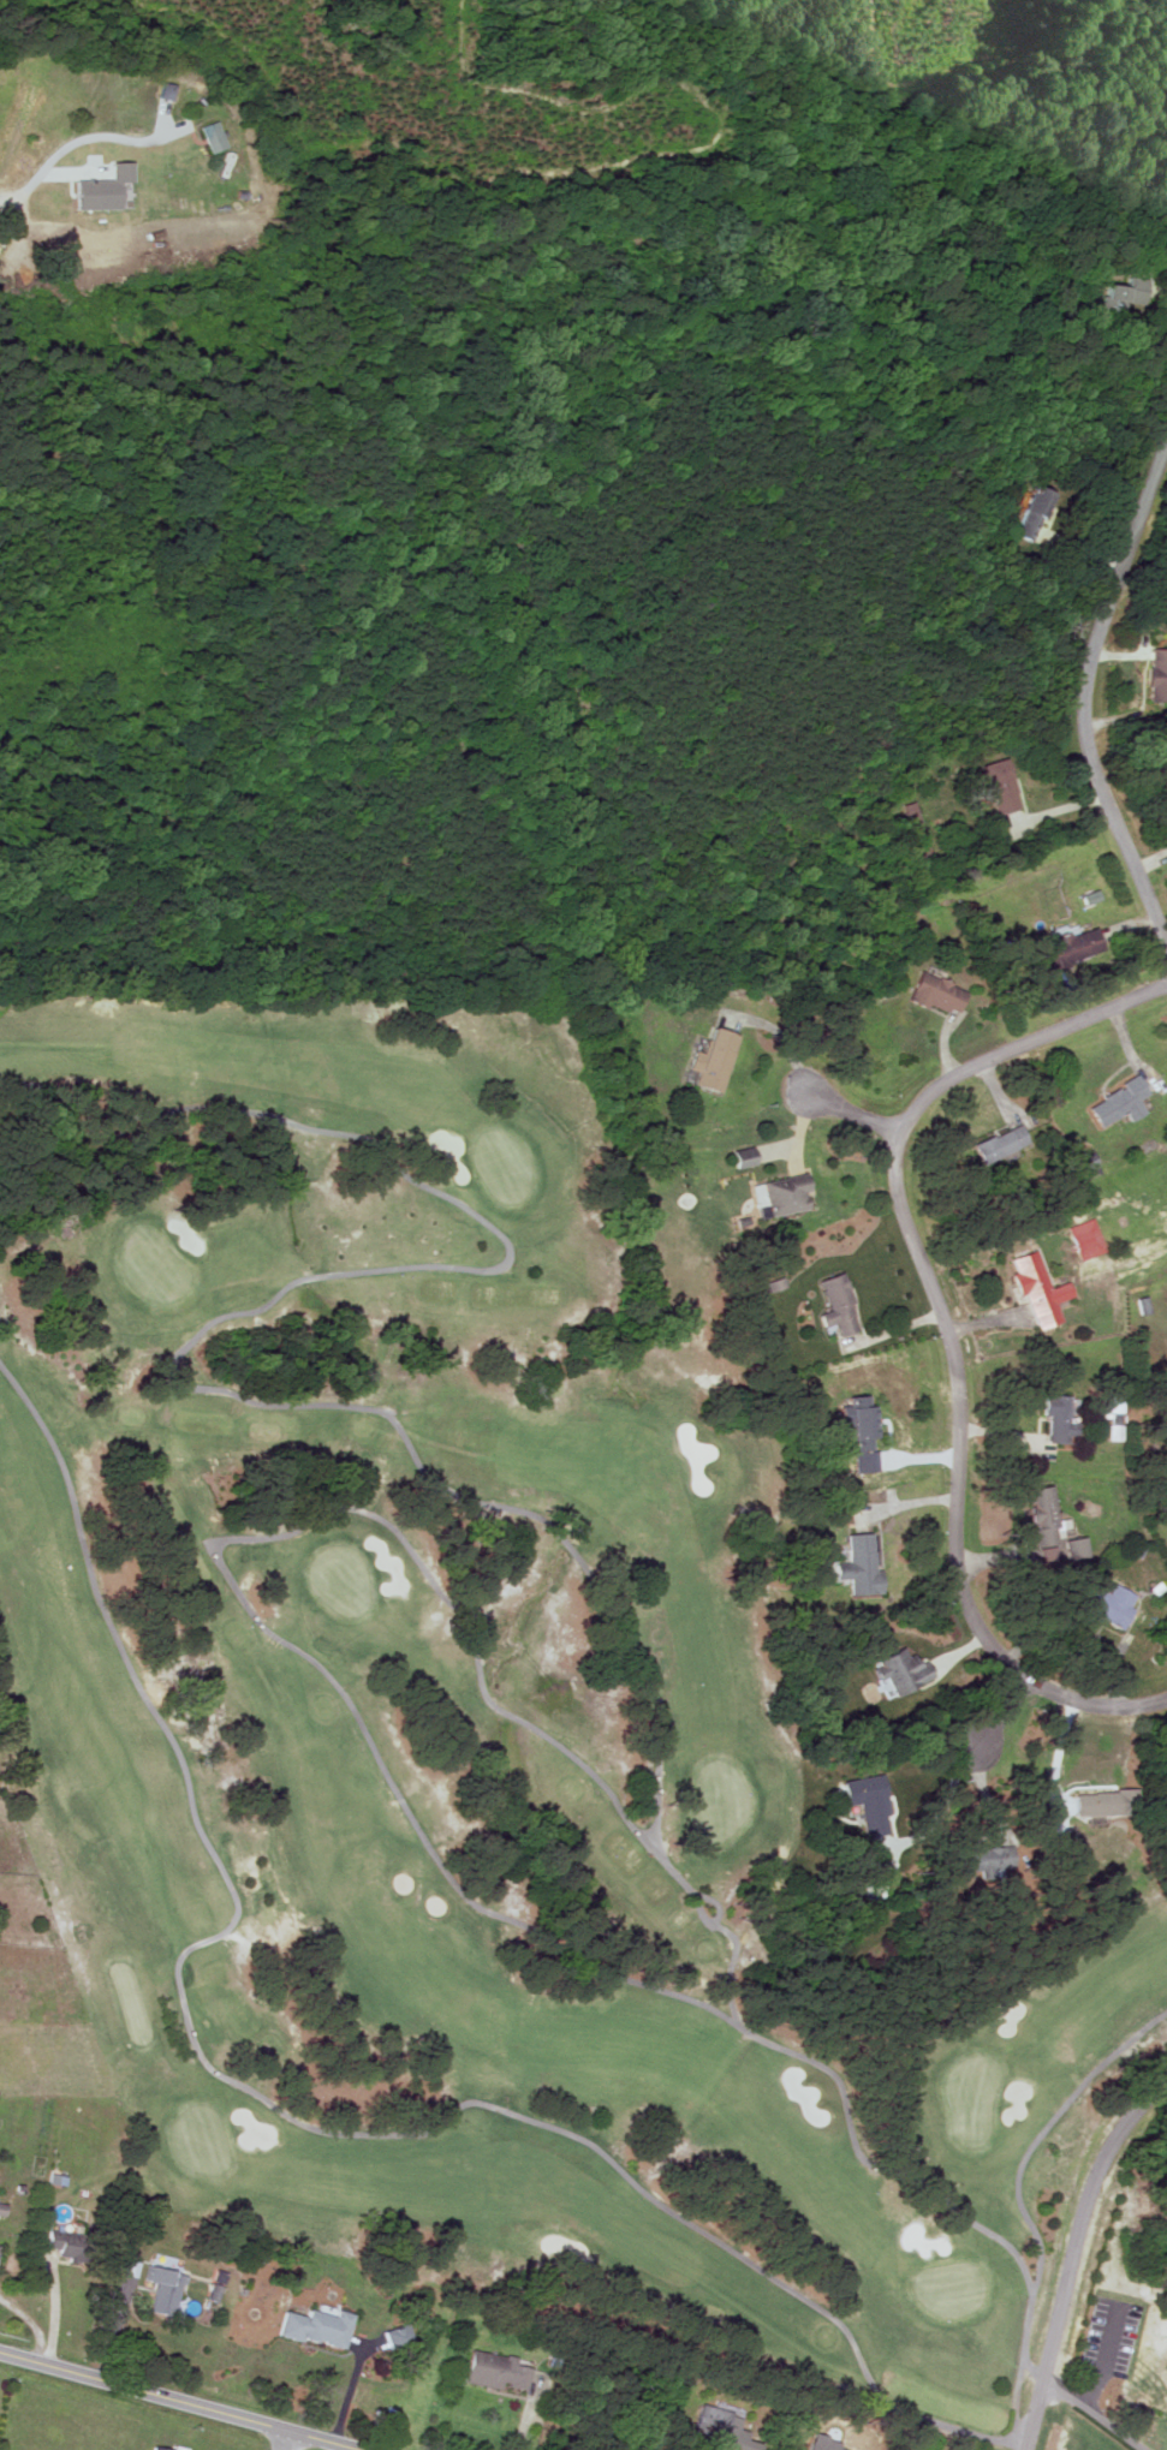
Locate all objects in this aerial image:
road: (0, 0)
road: (114, 137)
road: (30, 186)
building: (103, 187)
building: (1031, 512)
building: (1159, 674)
road: (1077, 687)
building: (1001, 786)
building: (912, 813)
building: (1076, 948)
building: (939, 994)
building: (716, 1060)
building: (1121, 1103)
road: (850, 1111)
building: (1004, 1144)
building: (1090, 1166)
building: (790, 1196)
building: (1088, 1239)
building: (1041, 1290)
building: (840, 1306)
road: (941, 1331)
building: (1061, 1417)
building: (868, 1426)
building: (875, 1495)
building: (1047, 1515)
building: (1079, 1548)
building: (1050, 1552)
building: (861, 1566)
building: (1117, 1603)
building: (904, 1670)
park: (480, 1709)
road: (998, 1716)
building: (870, 1802)
building: (1109, 1802)
building: (998, 1856)
building: (1, 2210)
building: (70, 2246)
road: (1070, 2247)
building: (162, 2289)
building: (312, 2326)
building: (400, 2336)
building: (496, 2371)
road: (174, 2402)
road: (1092, 2413)
building: (725, 2430)
road: (285, 2442)
building: (157, 2449)

